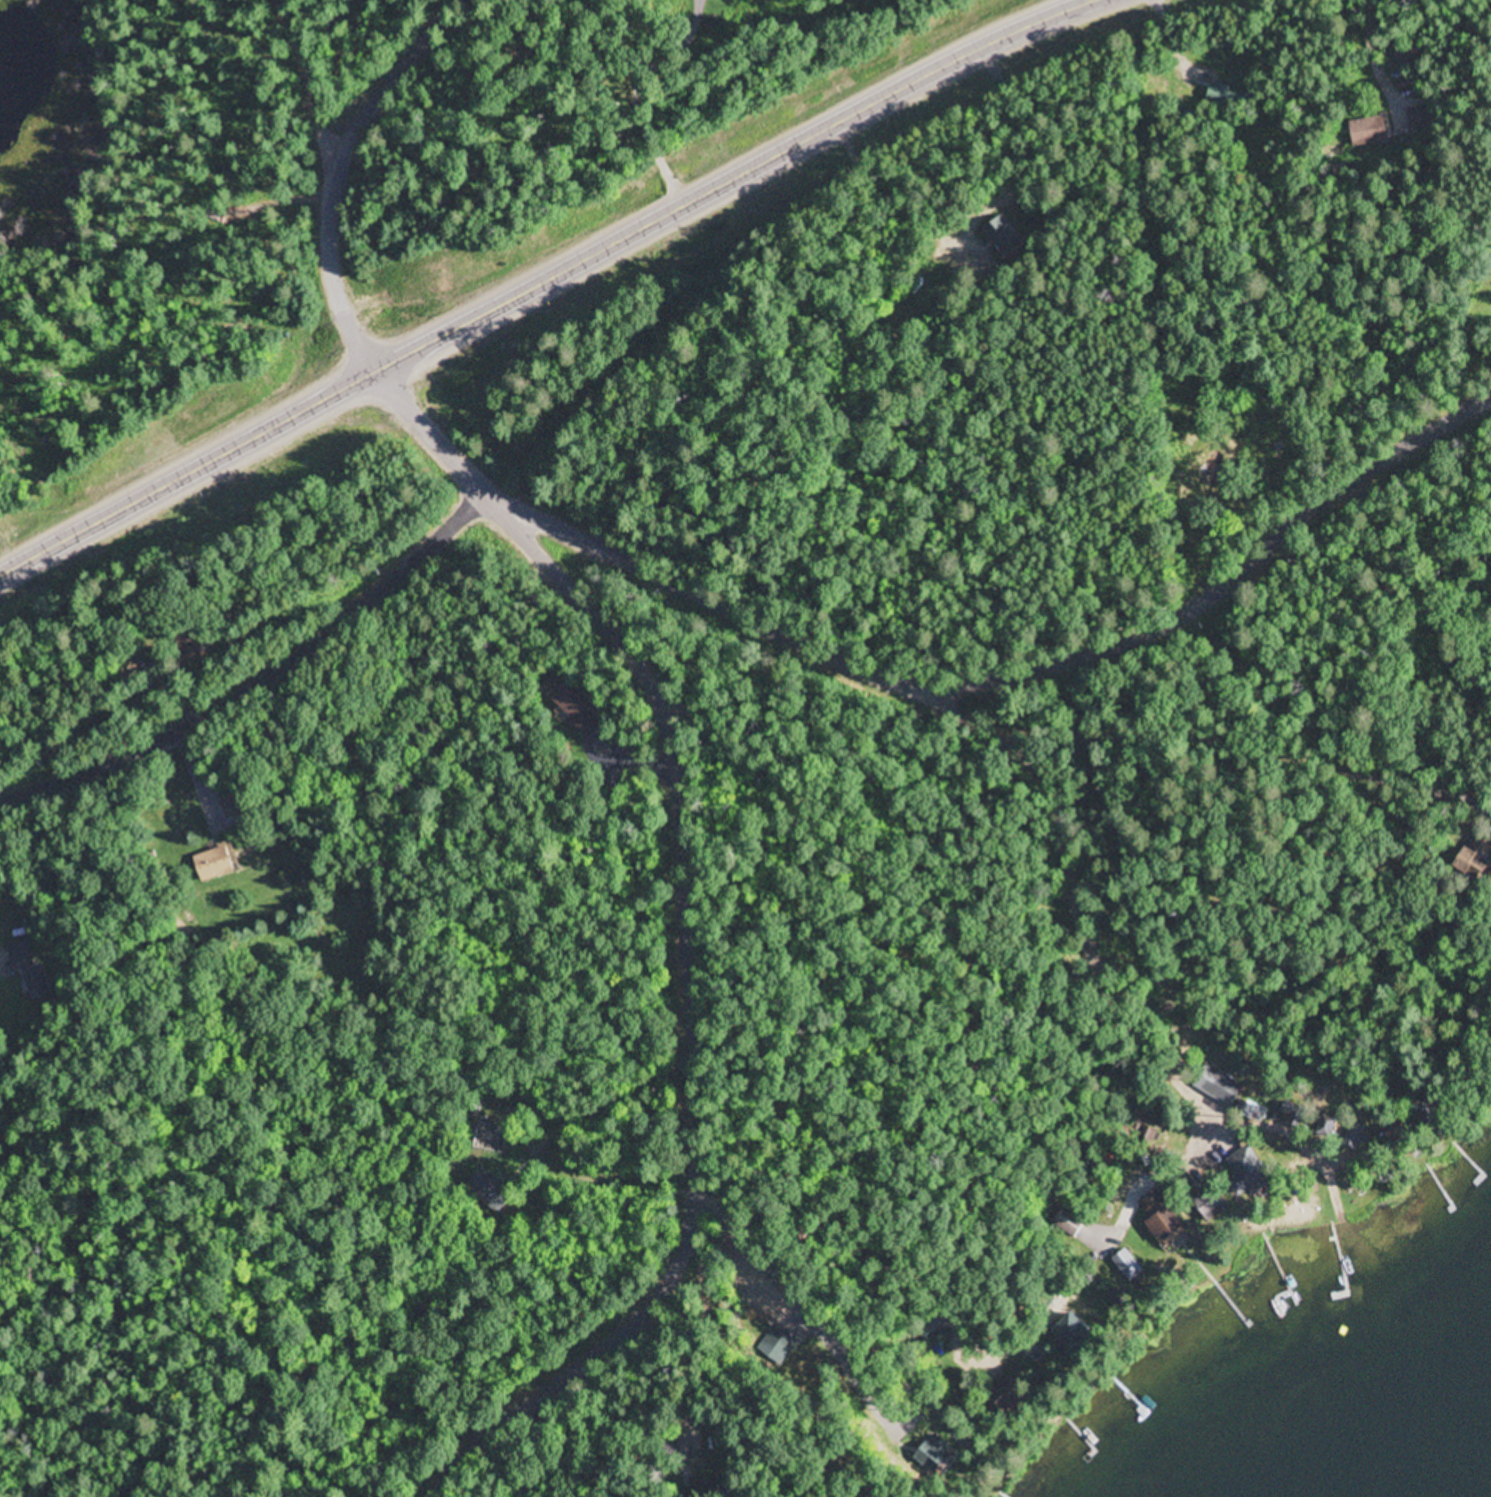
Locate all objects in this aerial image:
road: (1166, 44)
road: (1376, 62)
road: (313, 83)
road: (633, 95)
building: (1369, 132)
road: (337, 170)
building: (999, 228)
road: (499, 263)
road: (543, 279)
road: (567, 289)
road: (1420, 601)
building: (192, 640)
road: (1013, 678)
road: (260, 679)
building: (572, 704)
road: (1240, 746)
road: (633, 760)
road: (203, 778)
building: (218, 864)
road: (688, 932)
building: (18, 949)
building: (36, 983)
road: (1119, 1004)
road: (977, 1017)
building: (1297, 1112)
building: (1249, 1170)
road: (1154, 1178)
building: (1164, 1217)
building: (1128, 1265)
building: (1117, 1298)
road: (807, 1316)
building: (1078, 1335)
road: (572, 1458)
building: (710, 1486)

